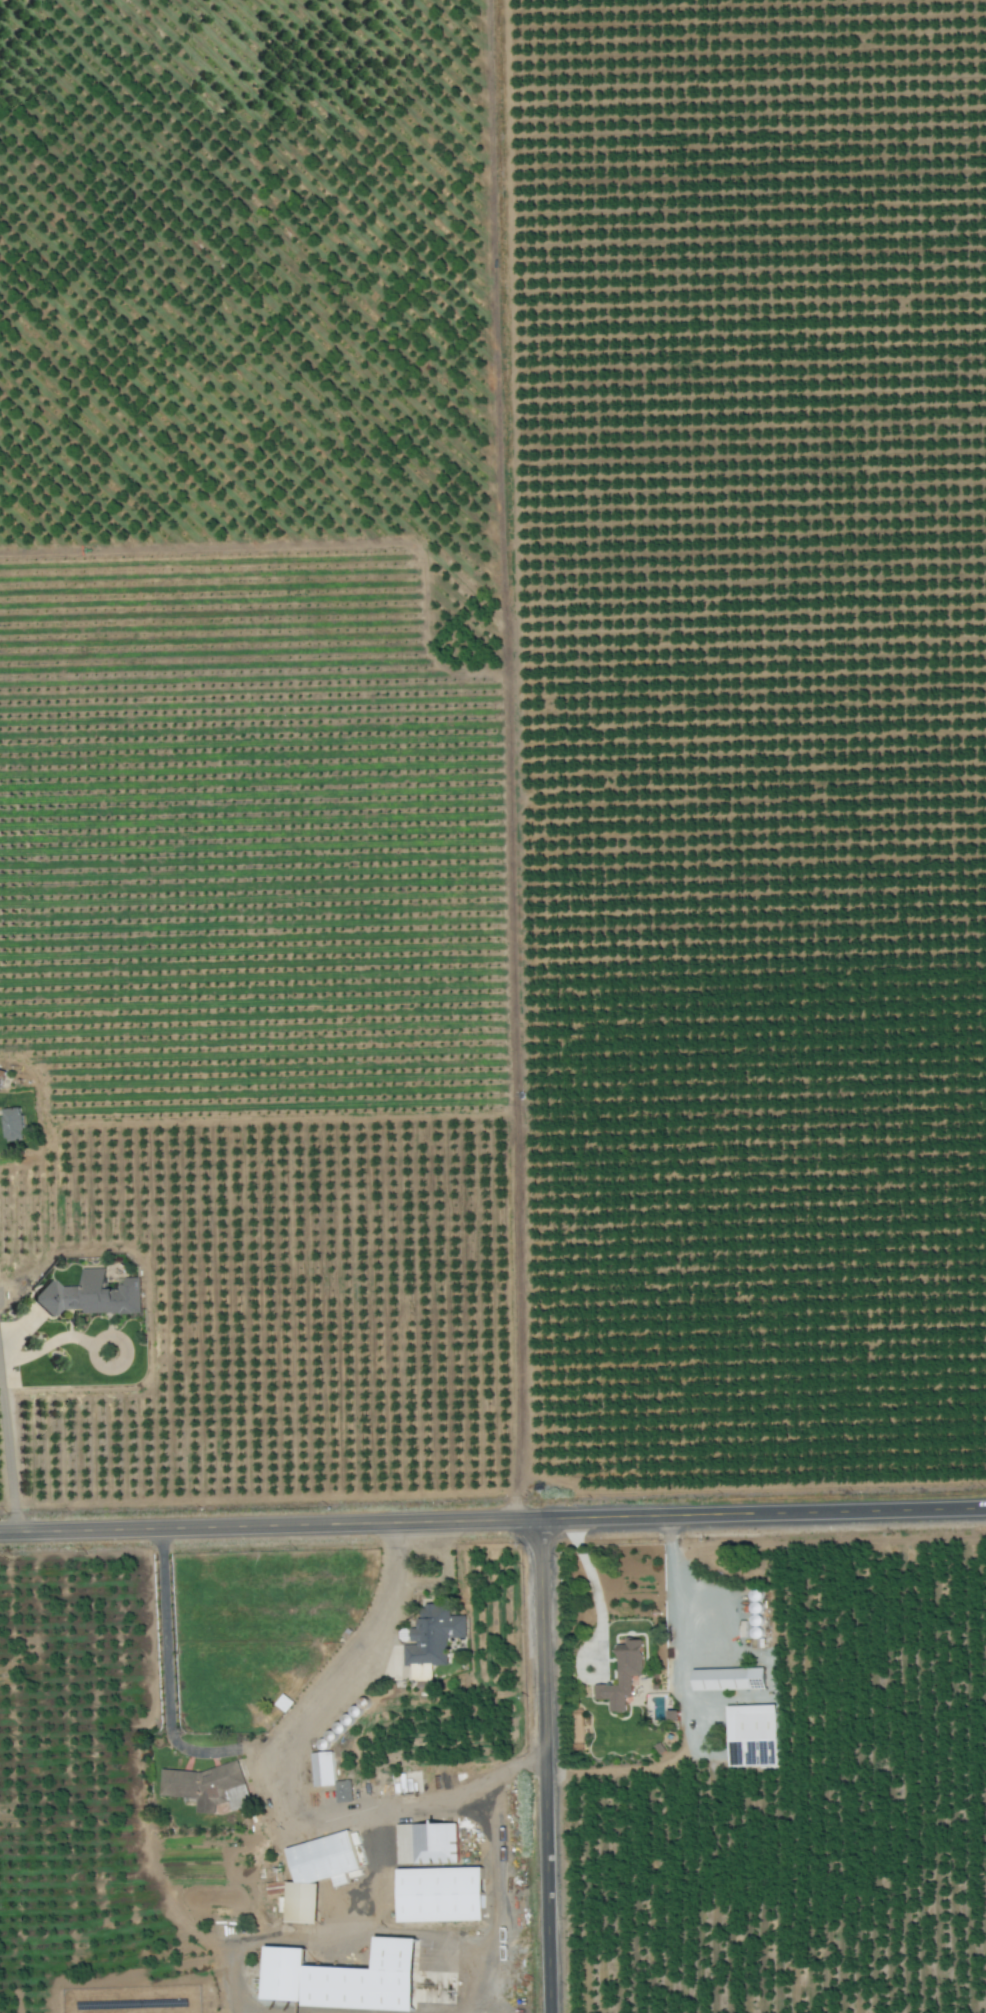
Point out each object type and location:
building: (2, 1076)
building: (15, 1123)
building: (93, 1294)
road: (118, 1336)
road: (47, 1343)
road: (5, 1428)
road: (493, 1526)
road: (668, 1558)
road: (391, 1560)
road: (435, 1576)
road: (595, 1596)
building: (433, 1638)
building: (624, 1674)
building: (731, 1678)
building: (676, 1714)
building: (753, 1734)
road: (685, 1741)
road: (212, 1751)
road: (548, 1769)
road: (493, 1773)
building: (330, 1775)
building: (207, 1785)
road: (322, 1820)
building: (428, 1842)
building: (319, 1871)
building: (276, 1886)
building: (444, 1893)
road: (505, 1896)
building: (349, 1977)

